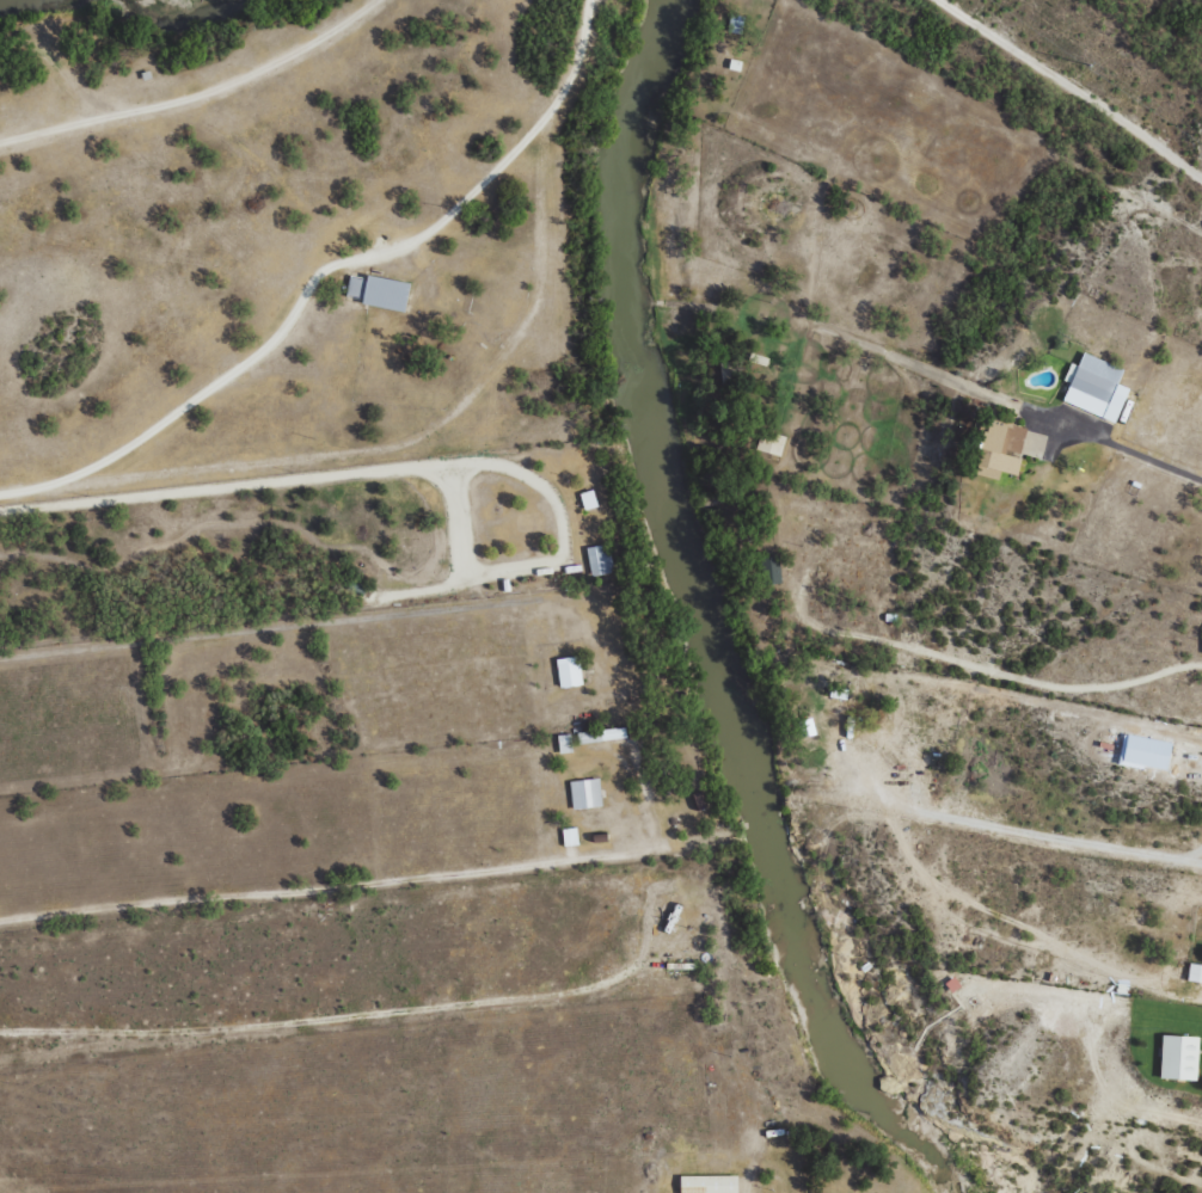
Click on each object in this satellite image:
river: (180, 23)
building: (379, 291)
building: (1096, 387)
road: (470, 431)
building: (771, 444)
building: (1034, 444)
building: (1001, 449)
building: (589, 499)
building: (600, 559)
building: (569, 671)
building: (807, 727)
building: (601, 734)
building: (565, 743)
building: (585, 793)
building: (570, 836)
building: (1195, 973)
building: (952, 984)
building: (1179, 1058)
building: (709, 1183)

